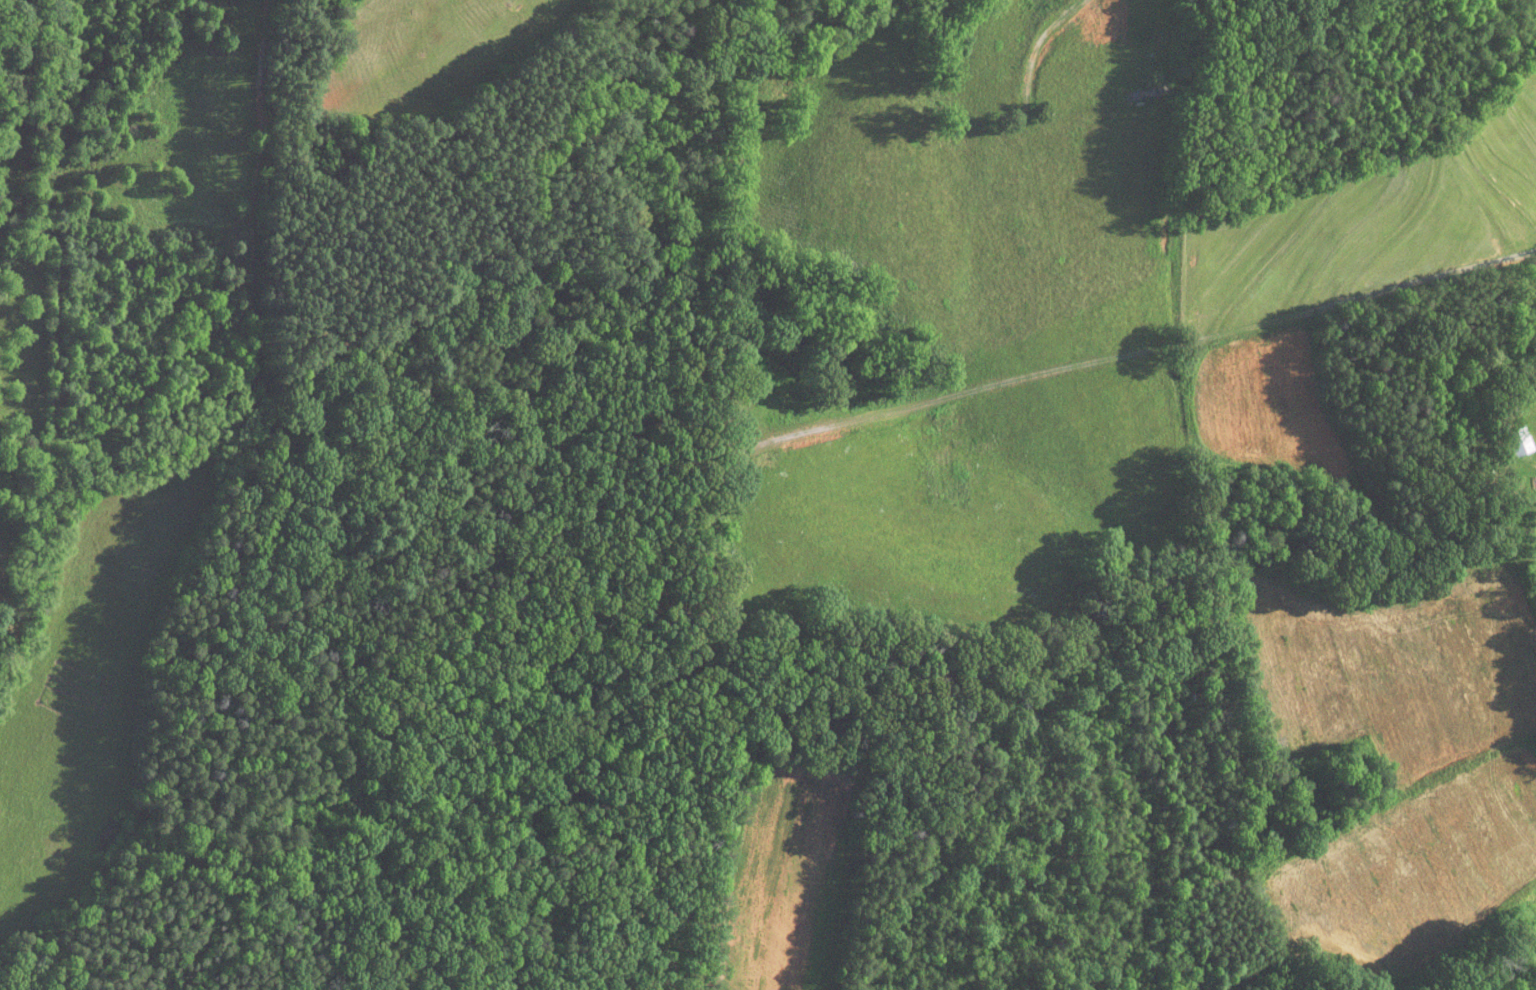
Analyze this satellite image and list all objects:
building: (1503, 433)
road: (1534, 461)

